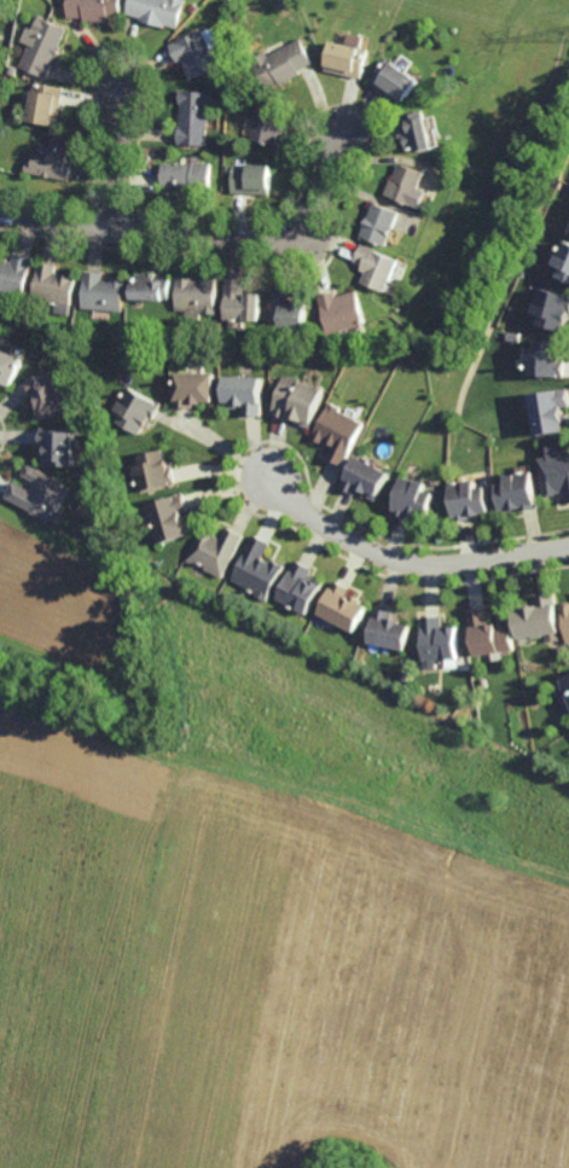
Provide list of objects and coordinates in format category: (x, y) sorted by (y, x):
building: (192, 6)
building: (94, 10)
building: (156, 11)
building: (211, 37)
building: (45, 46)
building: (193, 53)
building: (346, 58)
building: (280, 63)
building: (395, 80)
building: (47, 101)
building: (193, 116)
building: (266, 123)
building: (418, 130)
building: (56, 158)
road: (121, 159)
building: (227, 168)
building: (186, 175)
building: (251, 178)
building: (407, 182)
building: (382, 222)
road: (193, 233)
building: (564, 260)
building: (378, 266)
building: (14, 278)
building: (54, 284)
building: (149, 286)
building: (101, 291)
building: (196, 294)
building: (242, 301)
building: (524, 306)
building: (553, 308)
building: (343, 310)
building: (289, 314)
building: (134, 344)
building: (547, 359)
building: (10, 366)
building: (193, 388)
building: (244, 393)
building: (52, 394)
building: (298, 400)
building: (137, 409)
building: (551, 411)
building: (339, 431)
road: (220, 443)
building: (62, 447)
building: (152, 470)
building: (555, 475)
building: (366, 478)
building: (42, 493)
building: (519, 493)
building: (416, 498)
building: (471, 499)
building: (169, 517)
building: (215, 550)
road: (408, 559)
building: (259, 569)
building: (300, 587)
building: (344, 606)
building: (539, 618)
building: (565, 620)
building: (389, 629)
building: (492, 634)
building: (441, 640)
building: (567, 692)

